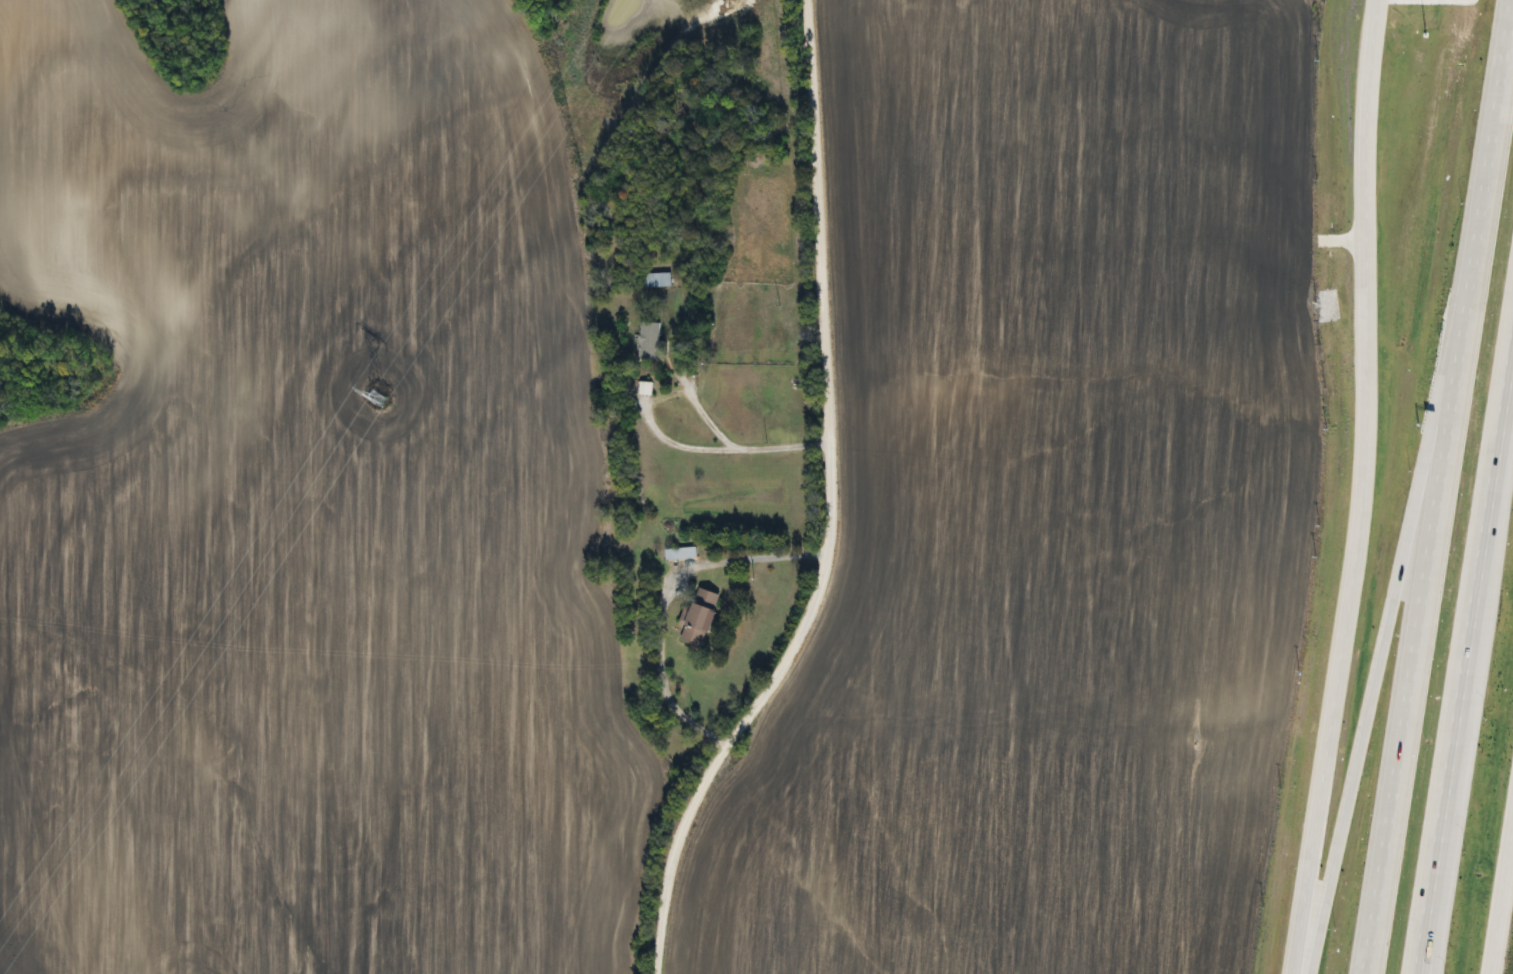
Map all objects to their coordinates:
road: (1494, 143)
building: (654, 279)
building: (645, 341)
power tower: (372, 397)
road: (674, 444)
road: (734, 446)
road: (1363, 488)
road: (831, 509)
building: (677, 553)
road: (661, 595)
building: (694, 616)
road: (1386, 617)
road: (1422, 618)
road: (1462, 636)
road: (1447, 794)
road: (1500, 895)

